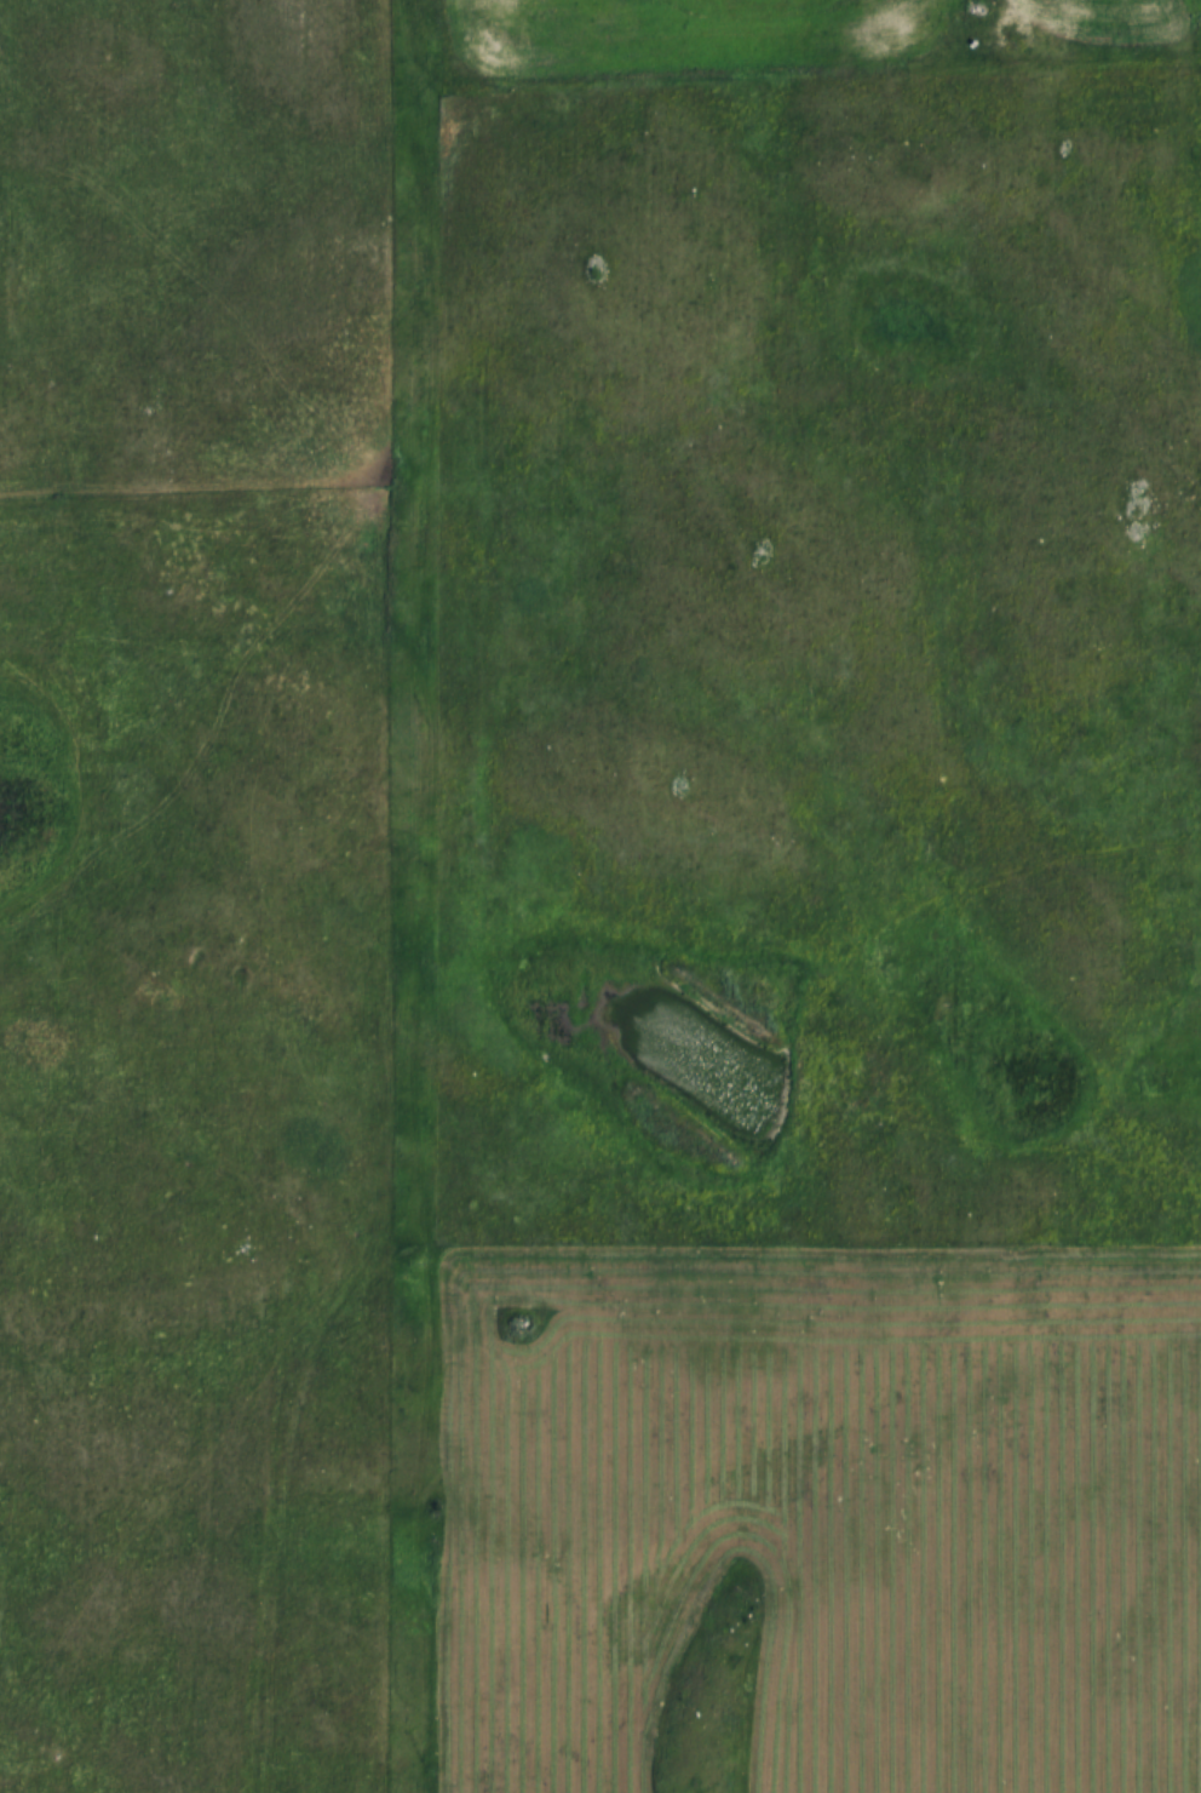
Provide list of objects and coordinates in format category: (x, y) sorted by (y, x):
building: (1070, 1606)

